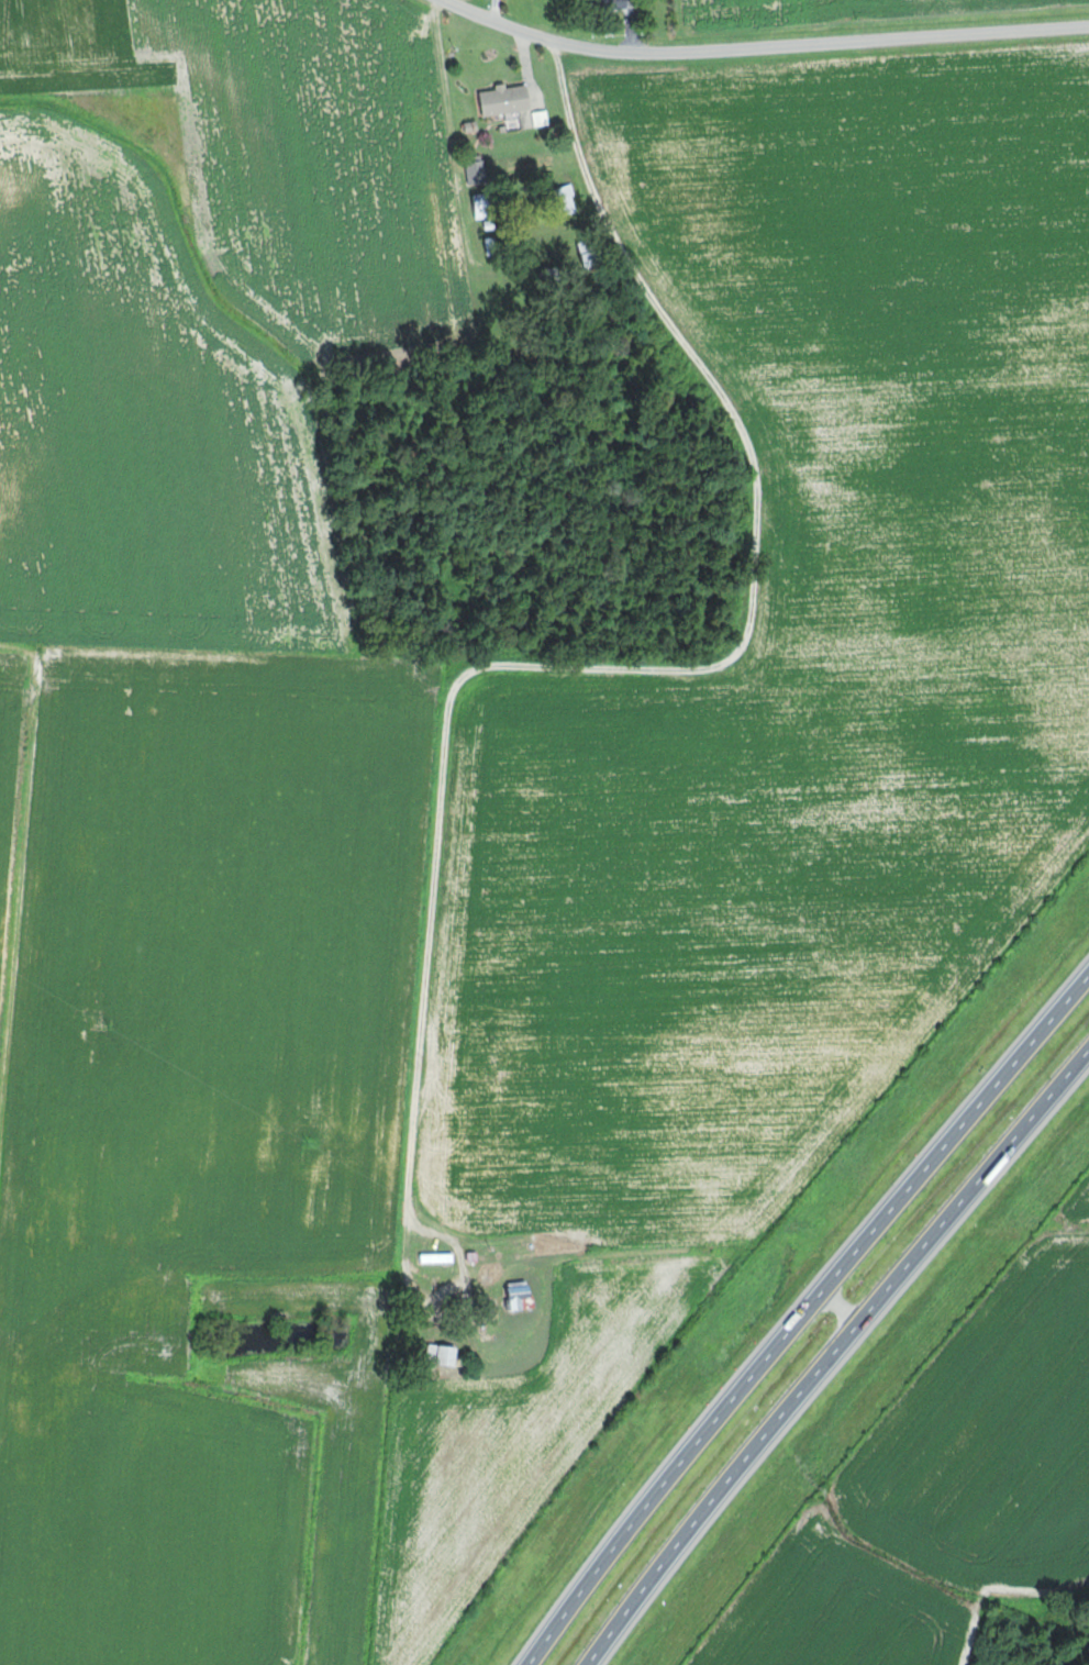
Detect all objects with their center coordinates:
building: (625, 5)
road: (490, 11)
road: (757, 51)
building: (508, 100)
building: (479, 171)
building: (489, 206)
road: (532, 665)
road: (1037, 1232)
road: (811, 1320)
building: (446, 1354)
road: (845, 1368)

